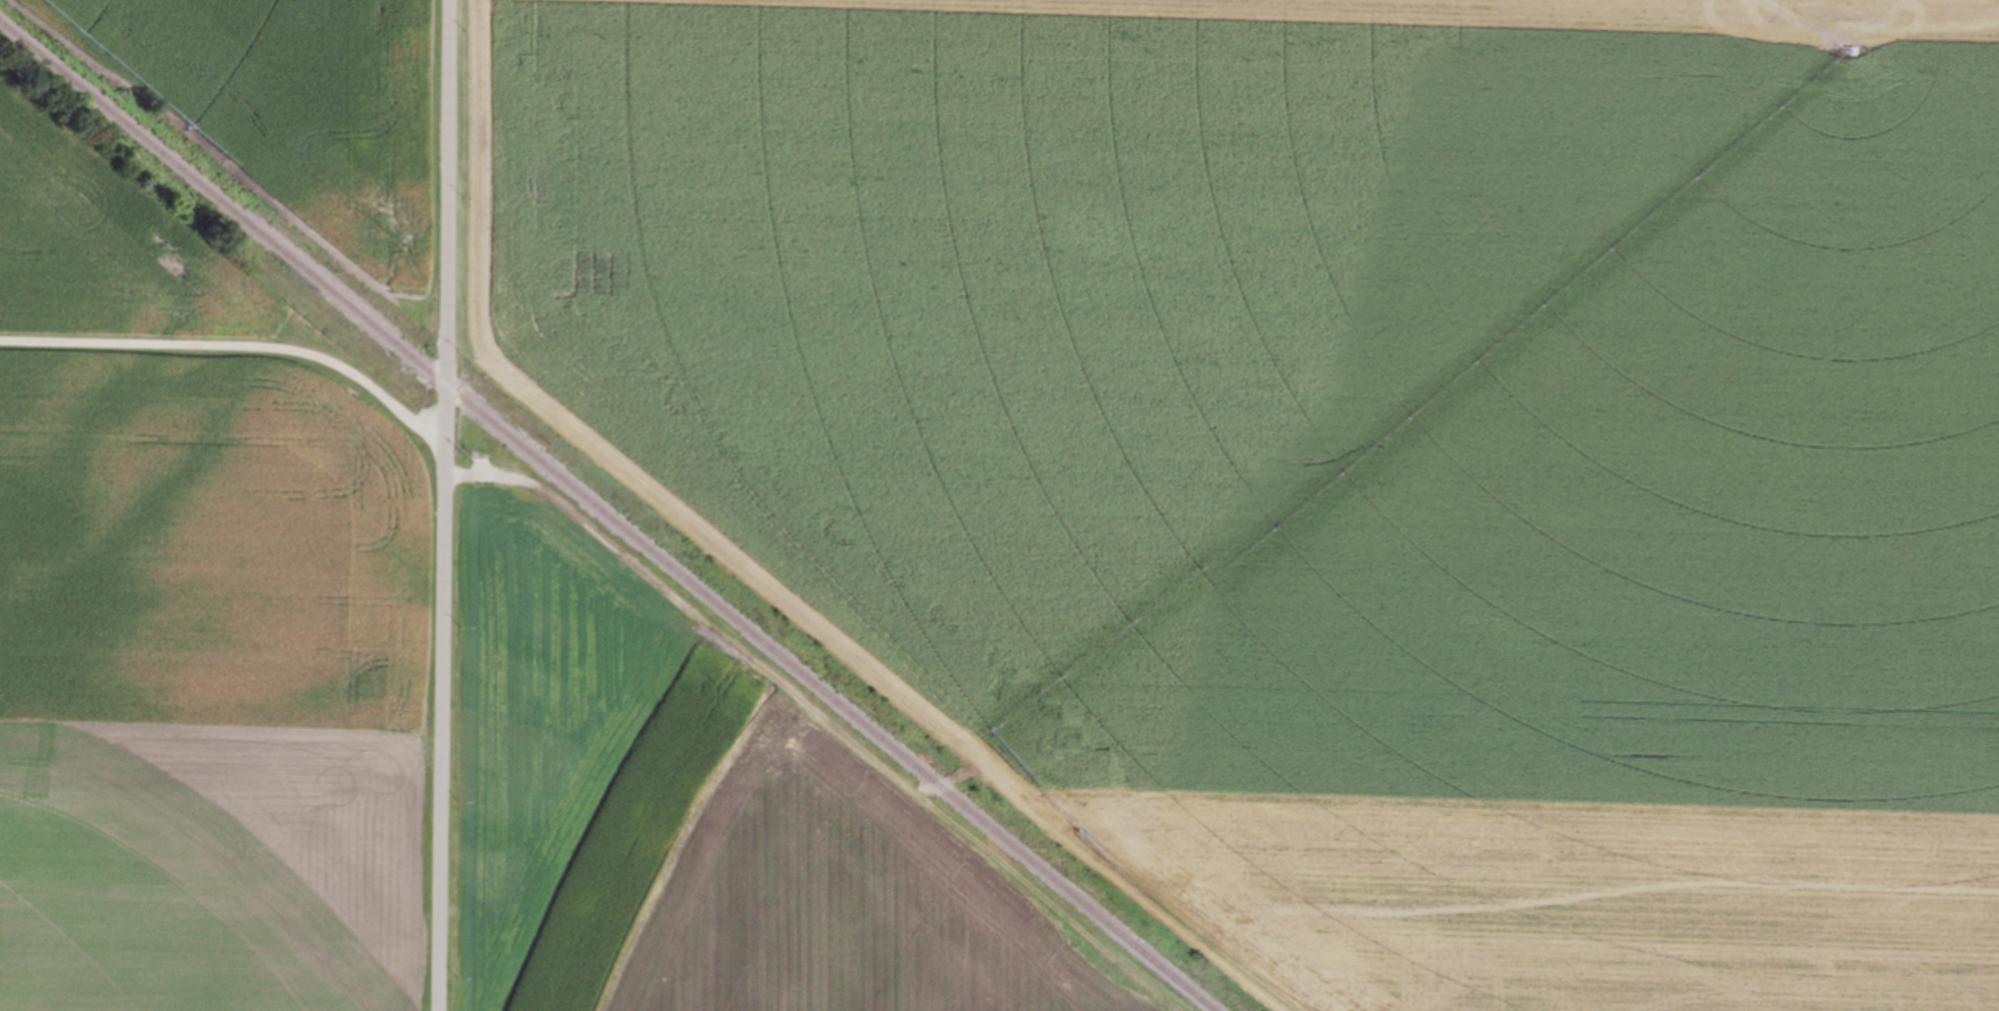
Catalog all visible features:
road: (444, 505)
railway: (608, 516)

